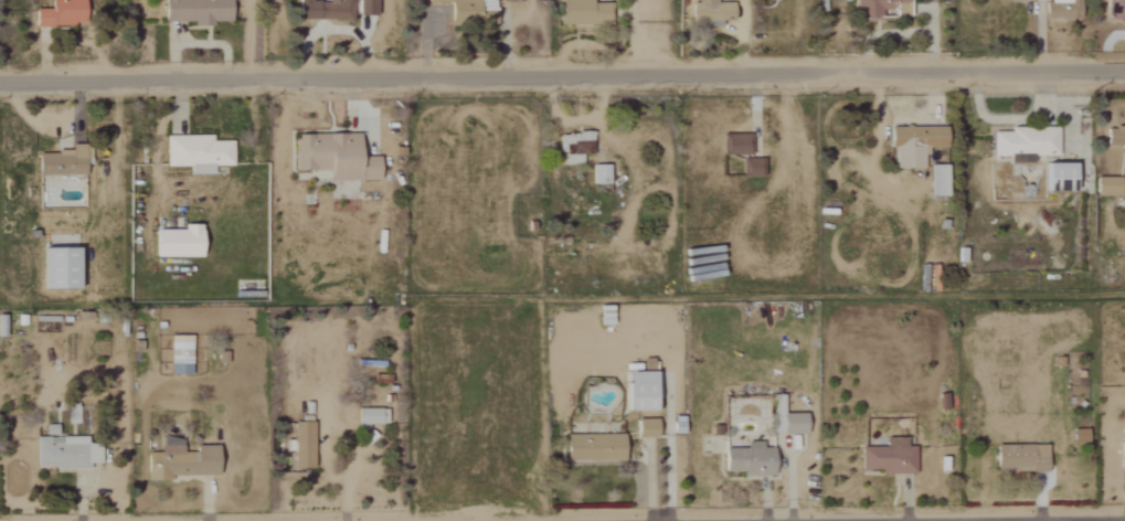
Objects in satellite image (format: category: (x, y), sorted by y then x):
building: (333, 9)
building: (466, 9)
building: (880, 9)
building: (1060, 9)
building: (1112, 9)
building: (195, 11)
building: (581, 12)
building: (709, 12)
building: (59, 13)
road: (562, 78)
building: (1115, 136)
building: (1023, 141)
building: (734, 143)
building: (912, 143)
building: (573, 146)
building: (195, 152)
building: (332, 156)
building: (1019, 158)
building: (60, 162)
building: (749, 167)
building: (598, 173)
building: (1057, 177)
building: (935, 180)
building: (1105, 185)
building: (176, 242)
building: (55, 267)
building: (604, 315)
building: (178, 354)
building: (637, 391)
building: (370, 416)
building: (785, 419)
building: (645, 428)
building: (303, 445)
building: (593, 447)
building: (64, 450)
building: (1122, 450)
building: (888, 457)
building: (1019, 457)
building: (747, 459)
building: (179, 460)
road: (347, 487)

